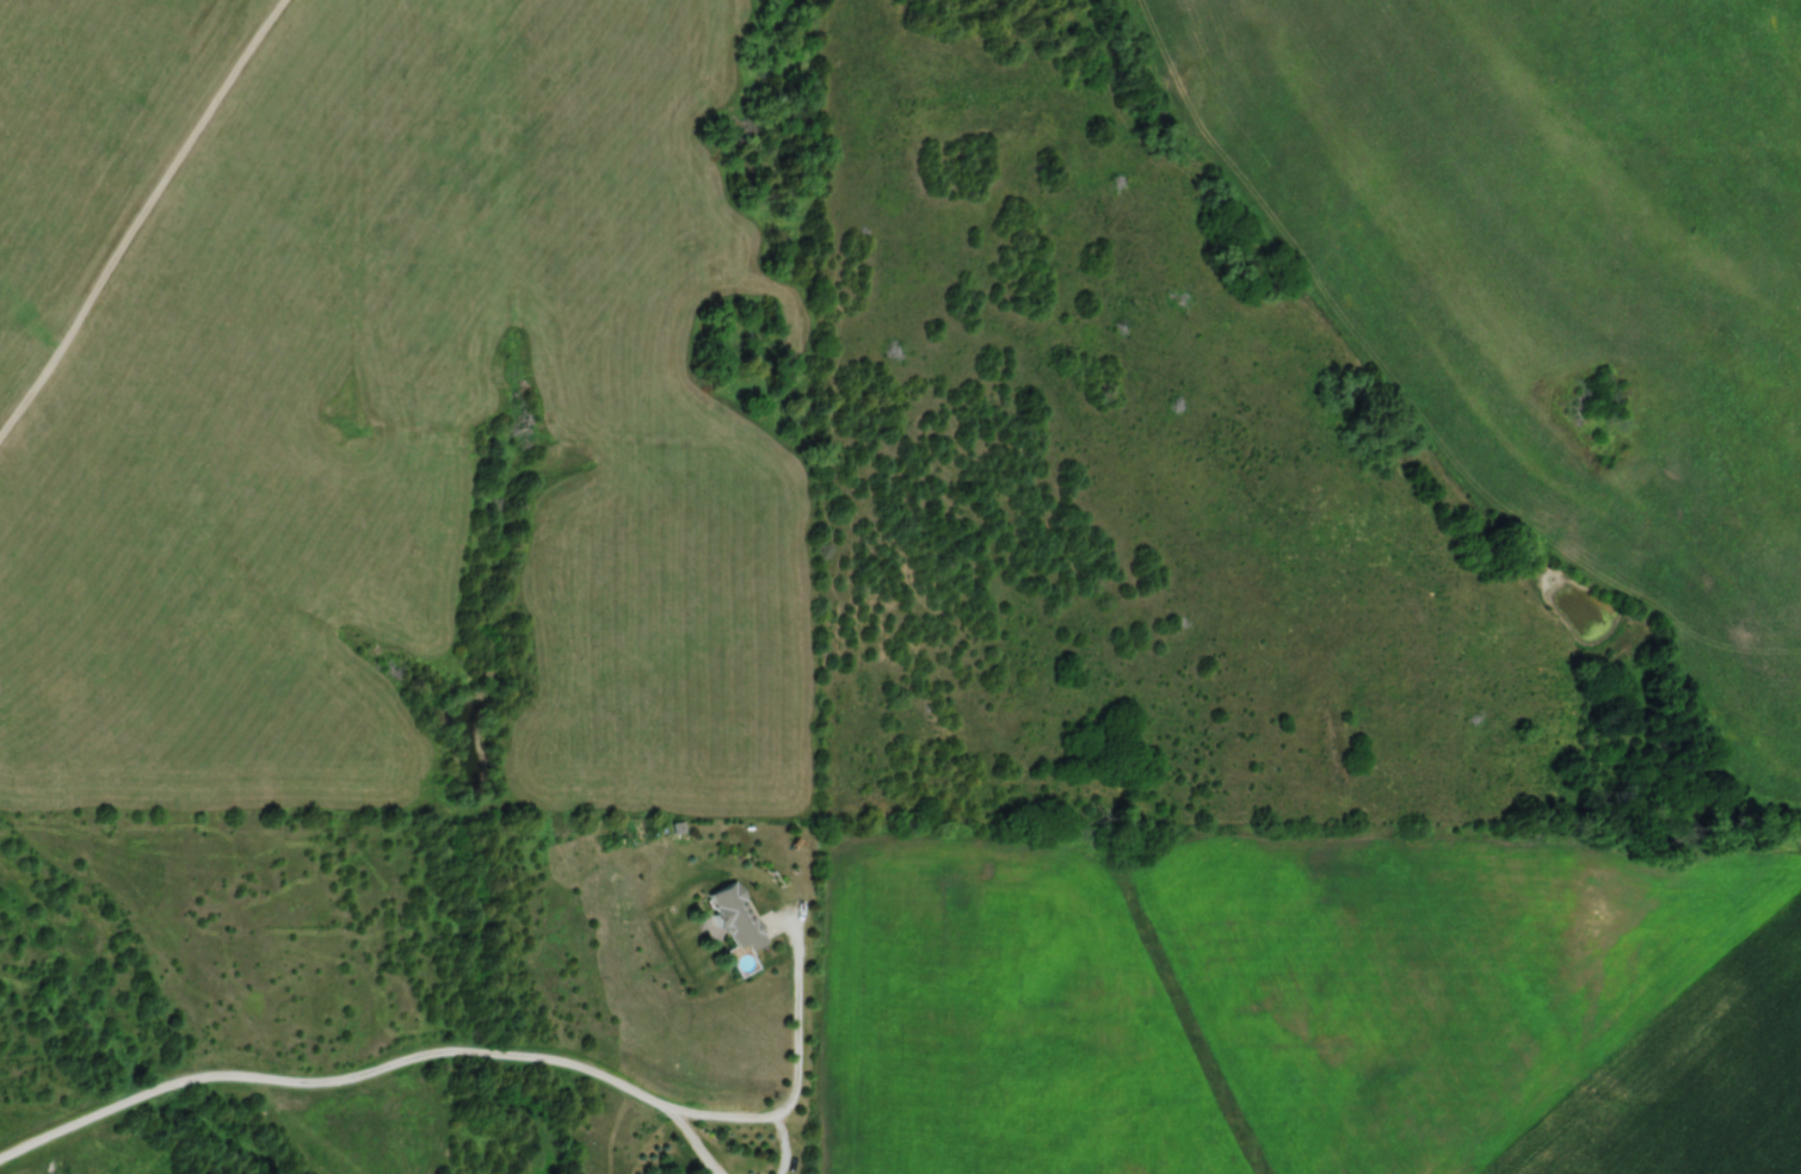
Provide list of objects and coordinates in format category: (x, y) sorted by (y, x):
road: (143, 222)
building: (736, 917)
road: (483, 1050)
road: (690, 1138)

